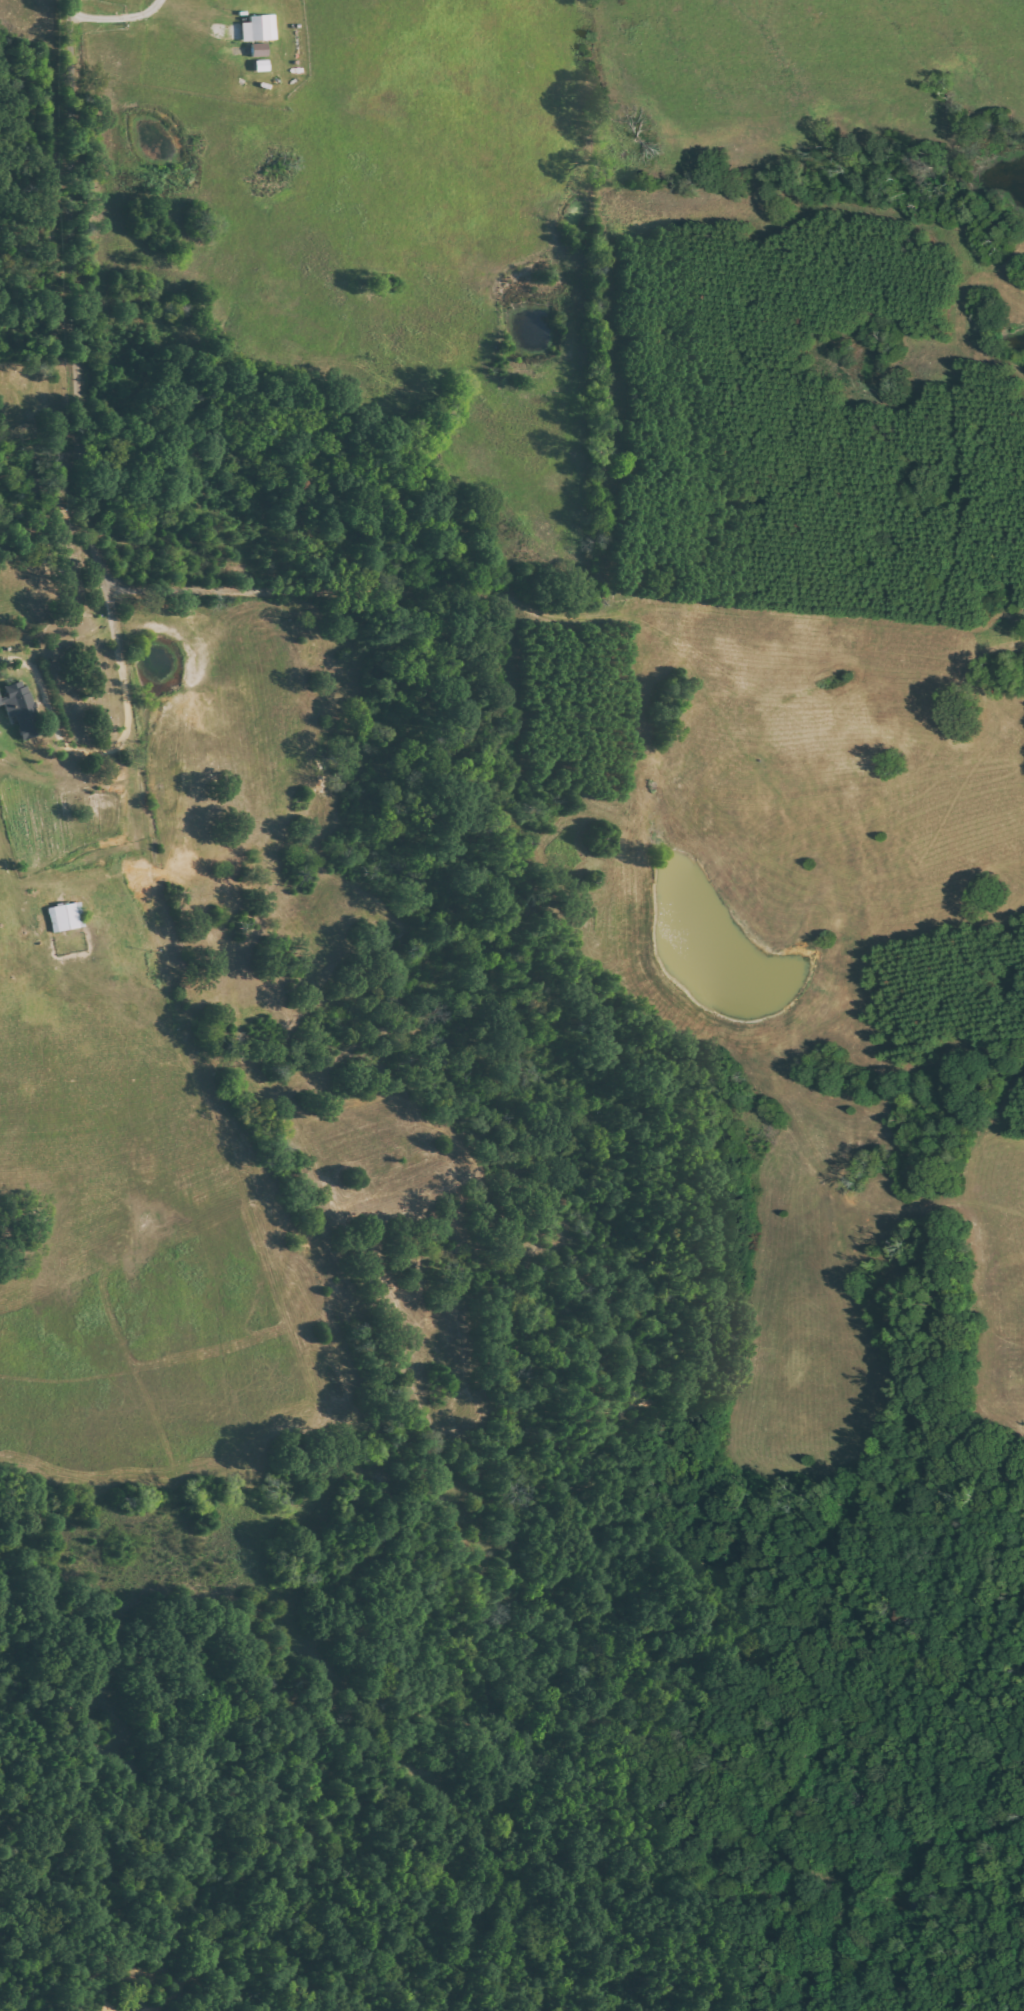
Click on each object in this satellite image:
road: (117, 17)
building: (258, 29)
building: (258, 50)
road: (78, 361)
building: (0, 703)
building: (22, 709)
road: (55, 728)

